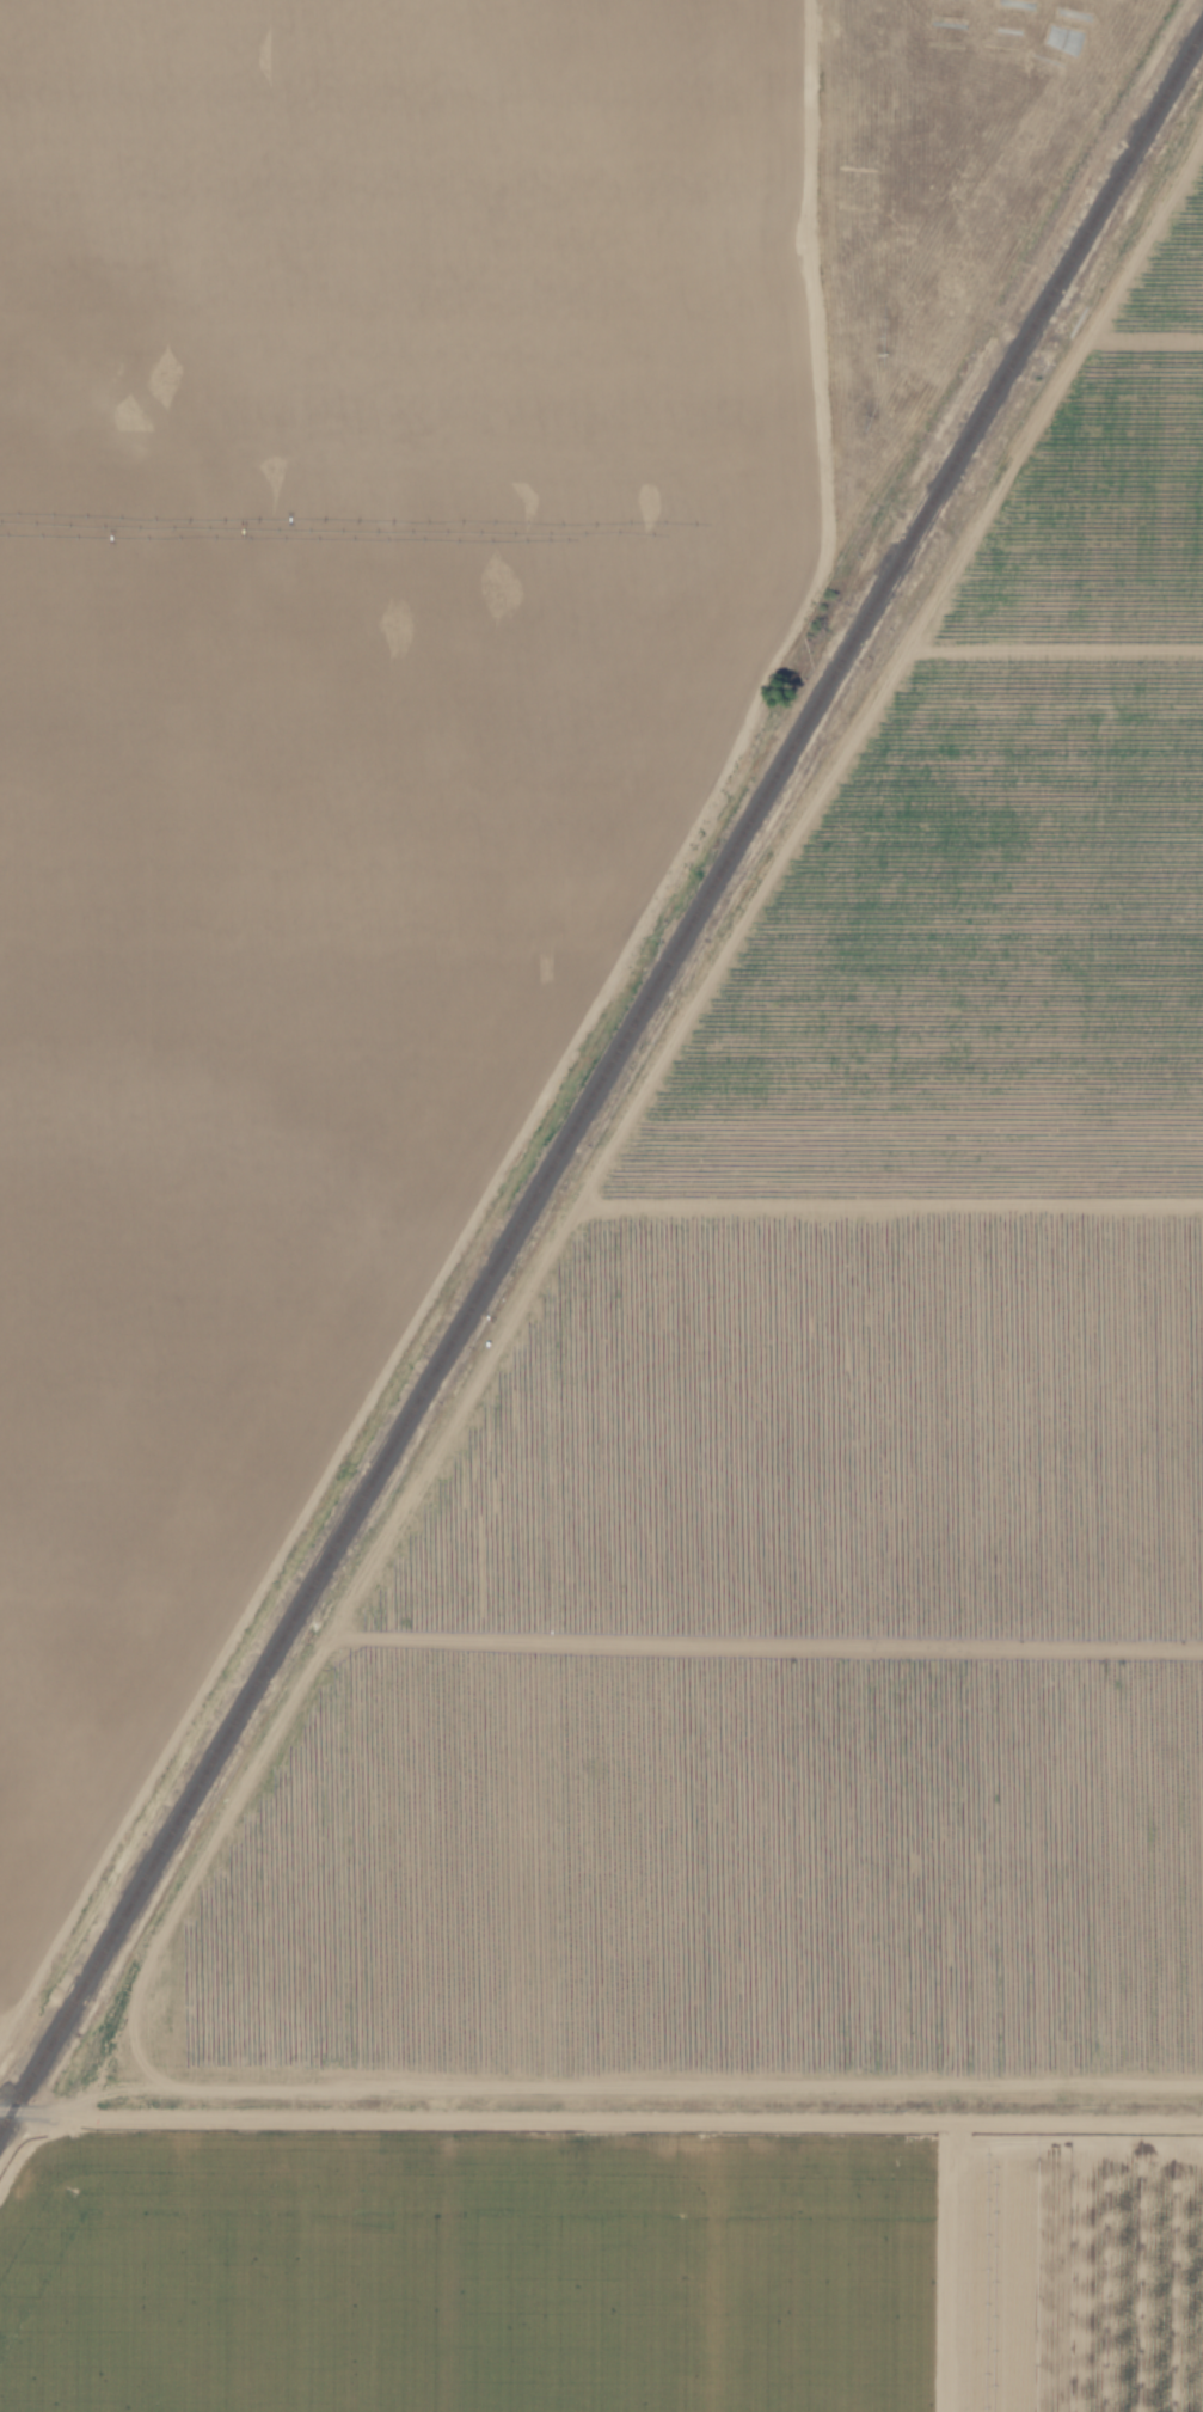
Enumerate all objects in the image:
railway: (601, 1075)
crop: (769, 1630)
road: (26, 2110)

